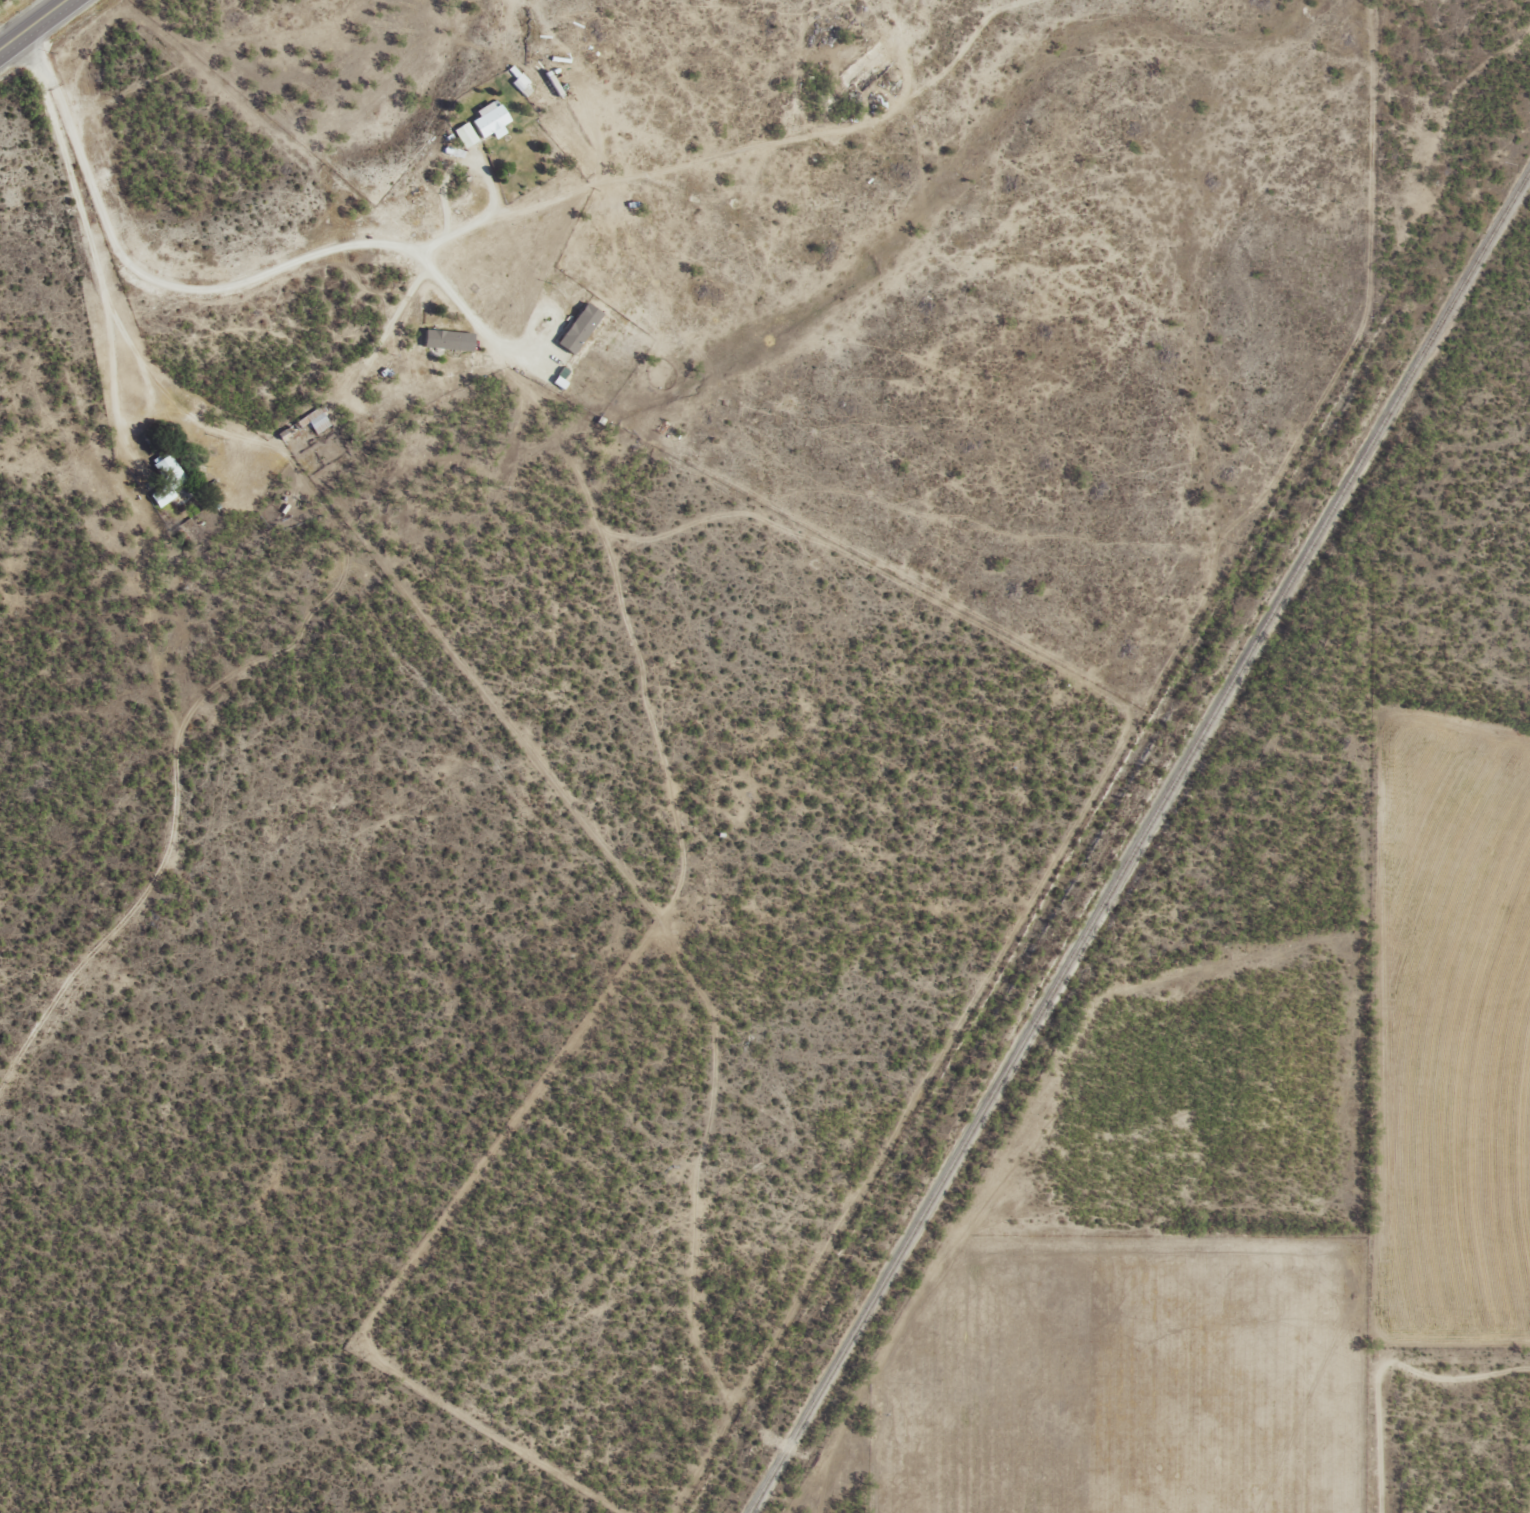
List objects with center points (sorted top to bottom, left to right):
road: (44, 35)
building: (487, 119)
building: (463, 134)
building: (575, 328)
building: (444, 339)
building: (558, 377)
building: (315, 420)
building: (164, 479)
road: (598, 500)
railway: (1137, 839)
road: (826, 1494)

